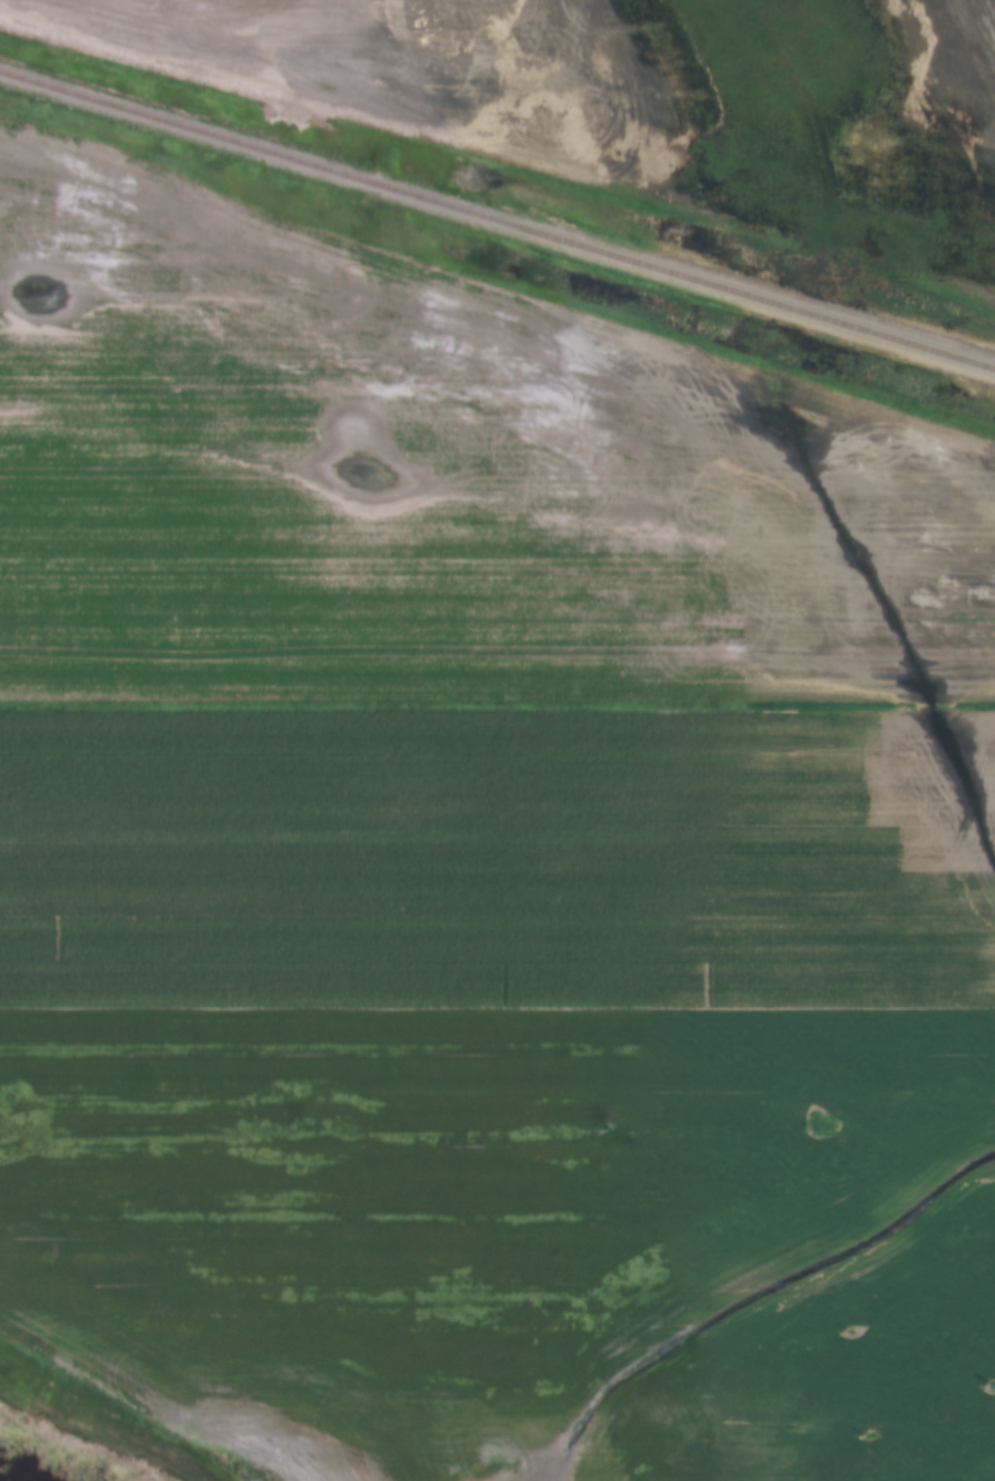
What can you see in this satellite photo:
railway: (497, 222)

